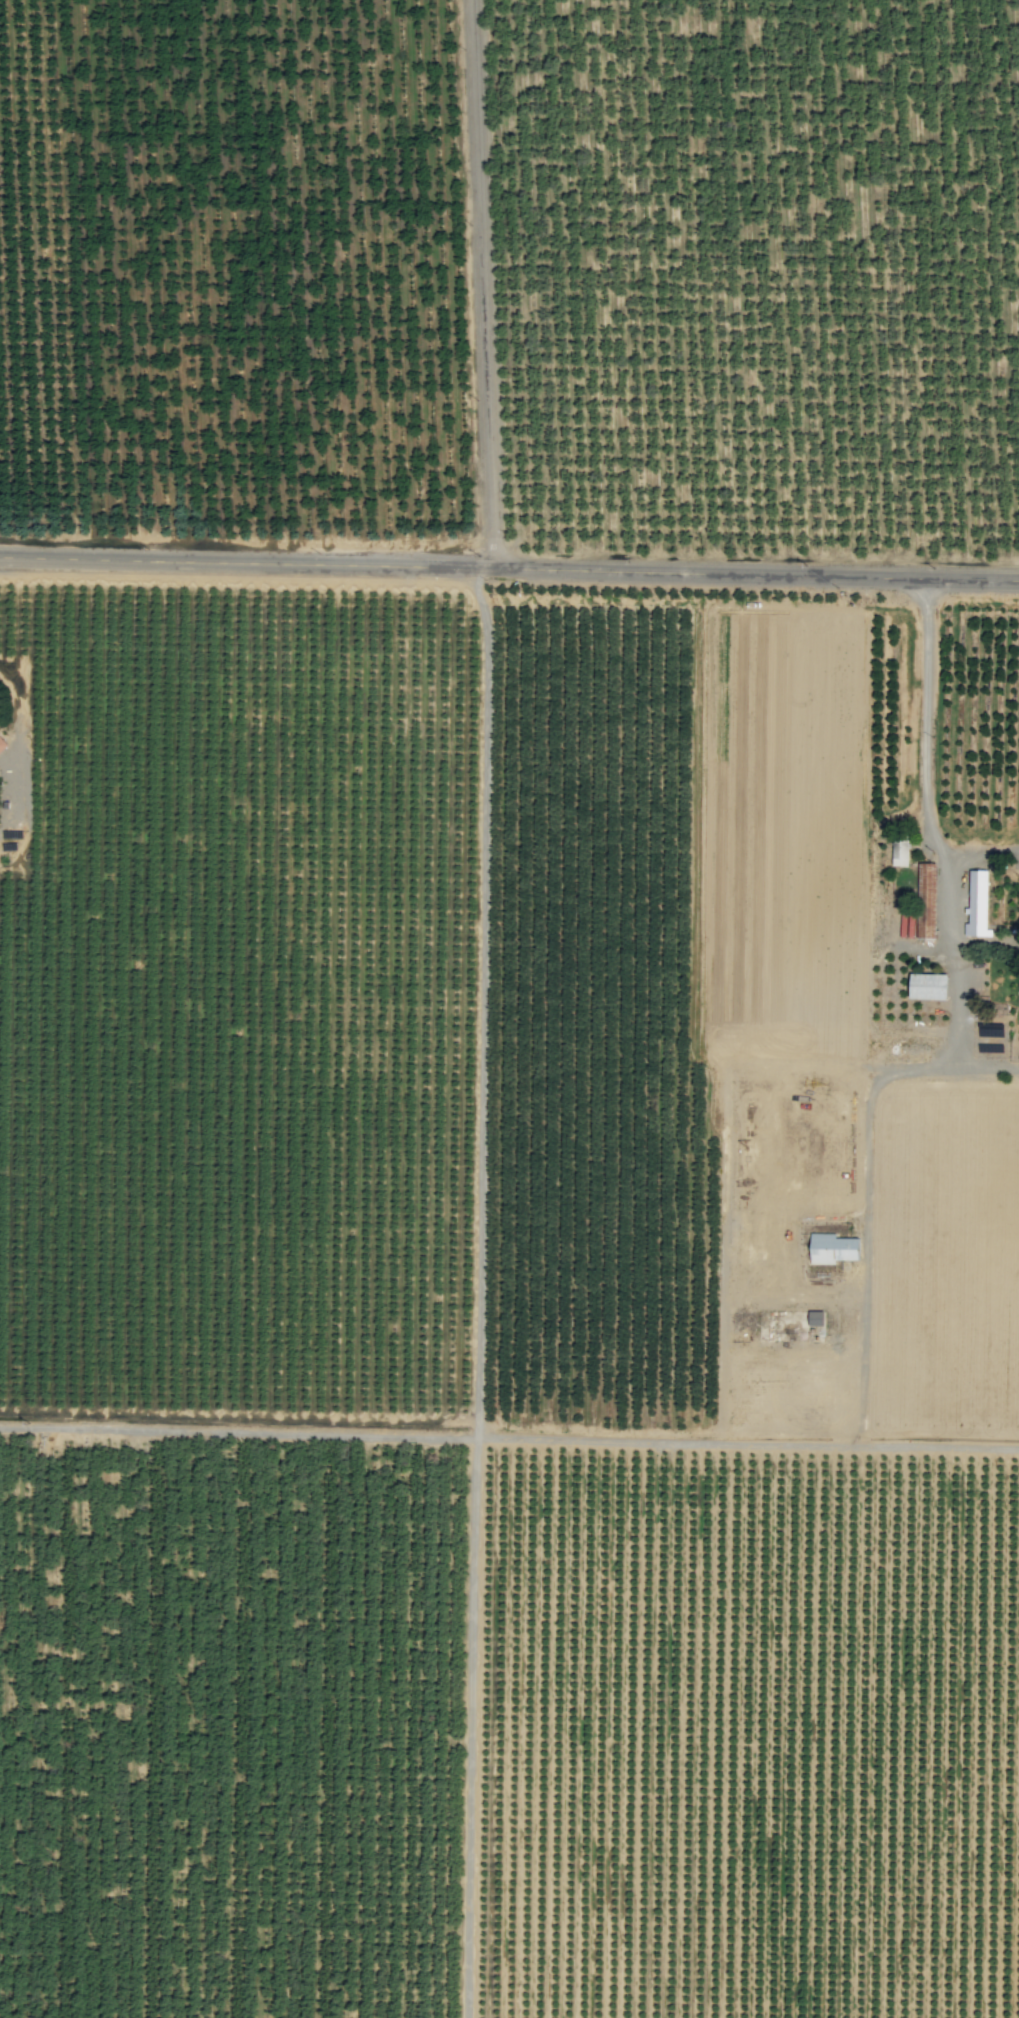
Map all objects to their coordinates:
road: (485, 284)
road: (509, 568)
building: (2, 744)
road: (923, 754)
building: (928, 904)
building: (977, 904)
building: (930, 986)
building: (833, 1248)

